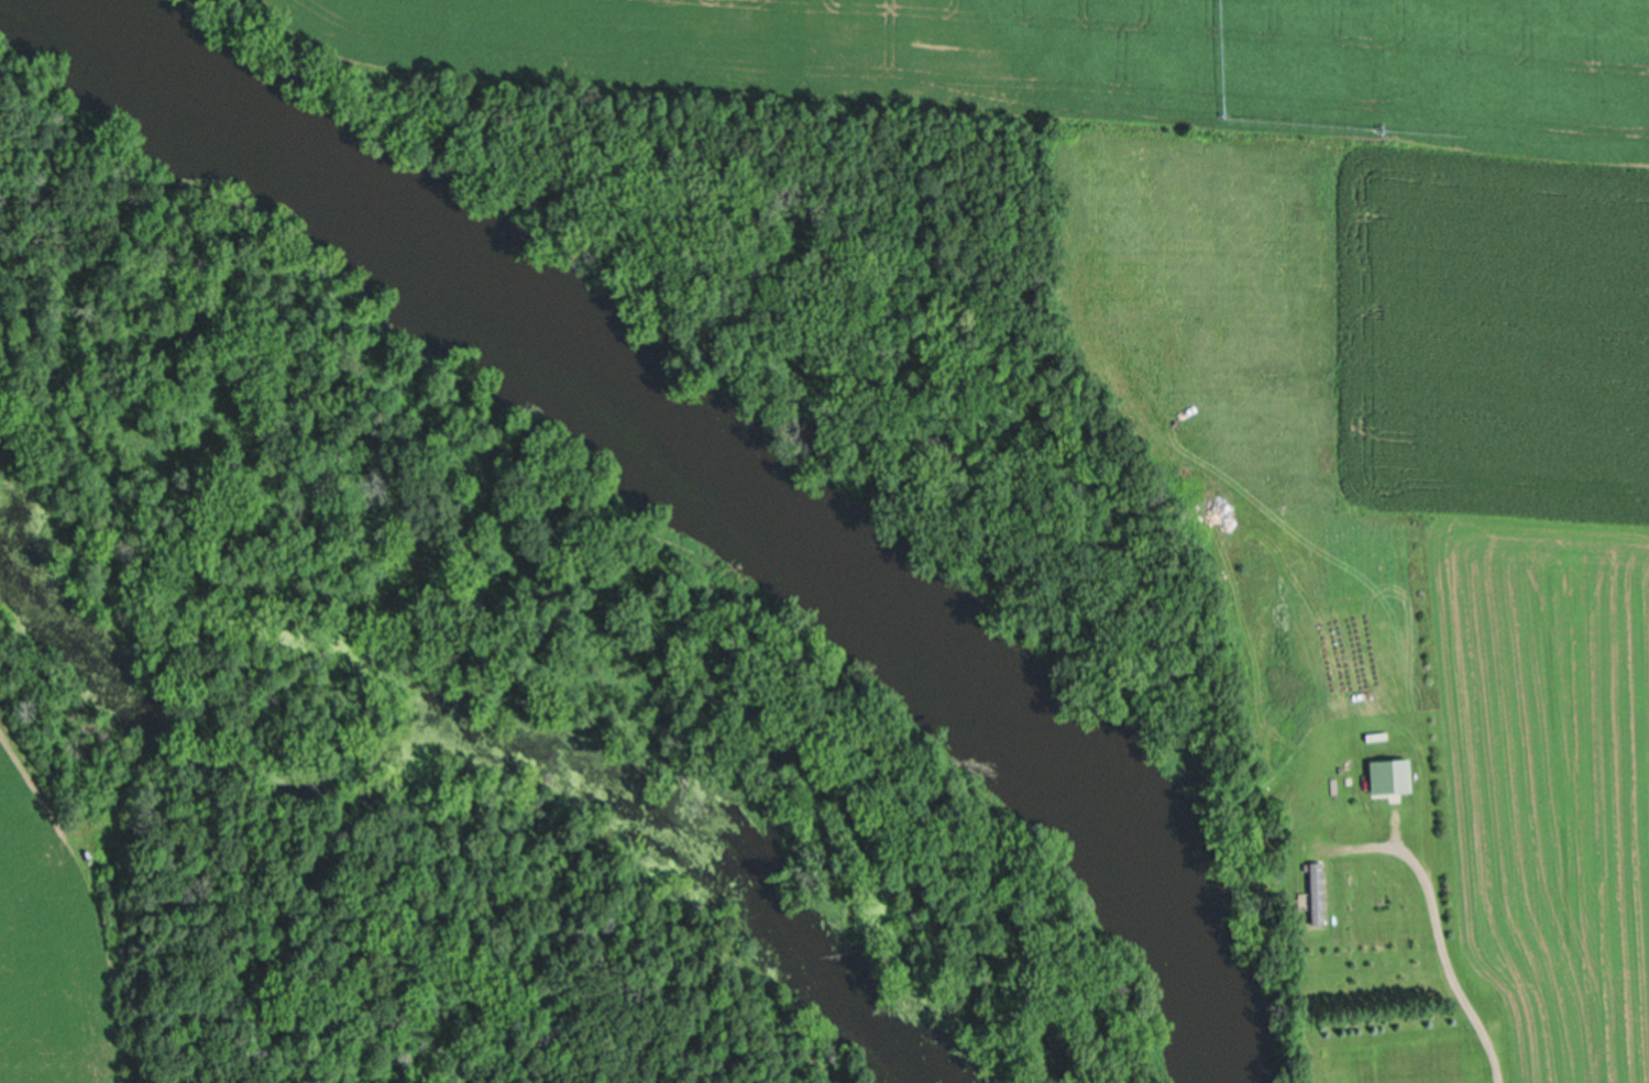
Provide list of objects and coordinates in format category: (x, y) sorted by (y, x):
crop: (1133, 55)
river: (721, 474)
crop: (1521, 552)
building: (1395, 775)
building: (1318, 892)
crop: (51, 942)
road: (1496, 1054)

